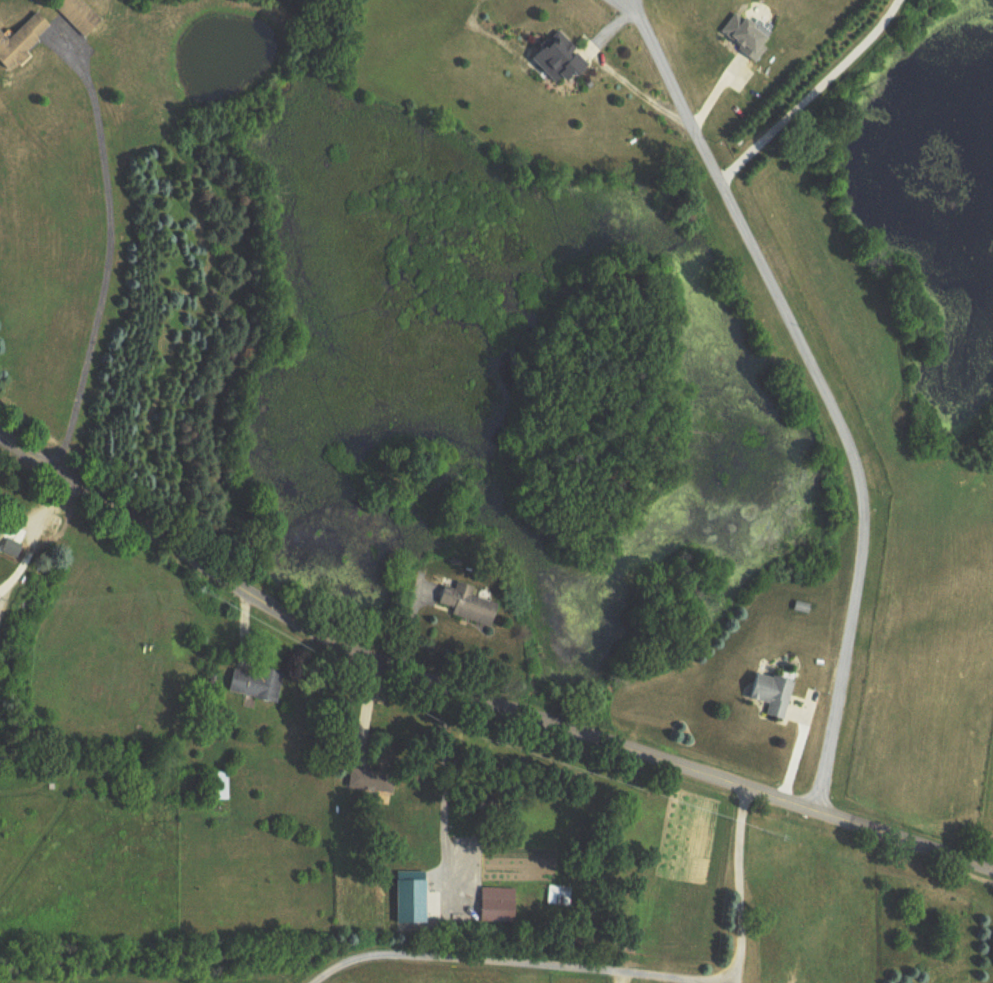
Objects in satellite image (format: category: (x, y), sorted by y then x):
building: (80, 16)
building: (746, 38)
building: (23, 42)
building: (561, 61)
road: (808, 92)
road: (107, 262)
road: (820, 389)
building: (53, 527)
road: (30, 530)
building: (1, 537)
building: (469, 605)
building: (257, 685)
building: (772, 694)
road: (478, 695)
road: (364, 710)
building: (373, 782)
building: (218, 786)
road: (443, 786)
building: (560, 897)
building: (499, 906)
road: (608, 968)
road: (732, 975)
road: (689, 980)

